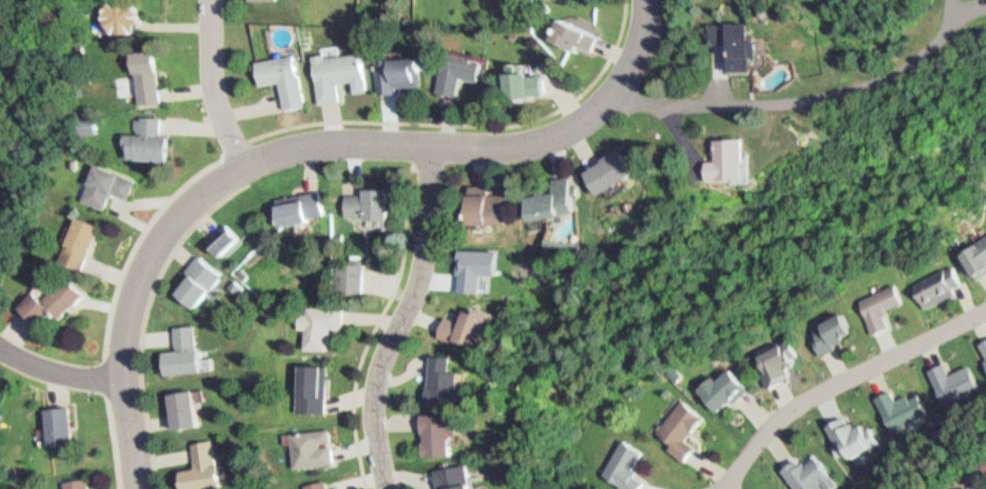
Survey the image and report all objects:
building: (127, 30)
building: (568, 30)
building: (729, 38)
building: (744, 43)
building: (452, 65)
building: (332, 69)
building: (393, 70)
building: (279, 74)
building: (154, 78)
building: (519, 81)
road: (213, 84)
building: (147, 90)
road: (301, 148)
building: (147, 151)
building: (720, 156)
building: (740, 161)
building: (608, 185)
building: (105, 194)
building: (560, 200)
building: (305, 208)
building: (551, 215)
building: (365, 216)
building: (481, 216)
building: (292, 221)
building: (2, 224)
building: (219, 234)
building: (228, 239)
building: (974, 251)
building: (81, 252)
building: (344, 273)
building: (194, 275)
building: (934, 276)
building: (232, 281)
building: (876, 299)
building: (50, 312)
road: (405, 318)
building: (315, 320)
building: (825, 325)
building: (463, 335)
building: (983, 340)
building: (178, 344)
building: (770, 355)
building: (985, 356)
road: (57, 371)
building: (951, 374)
road: (840, 380)
building: (715, 381)
building: (307, 383)
building: (440, 391)
building: (900, 401)
building: (180, 403)
building: (59, 418)
building: (676, 419)
building: (851, 432)
building: (307, 442)
building: (436, 445)
building: (196, 462)
building: (620, 462)
building: (982, 462)
building: (807, 469)
building: (982, 469)
building: (76, 481)
building: (309, 482)
building: (448, 483)

